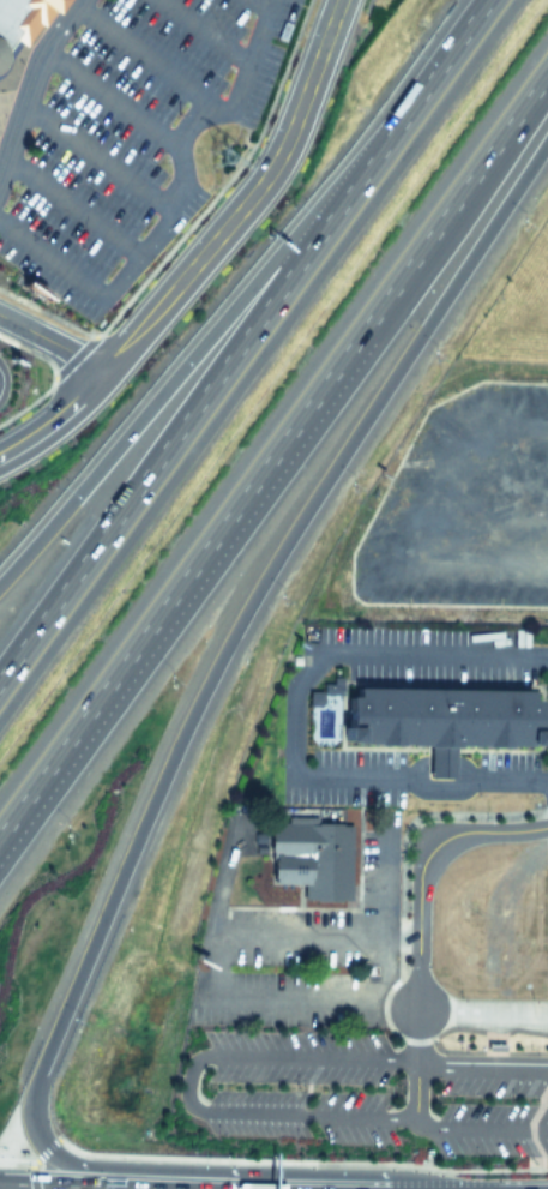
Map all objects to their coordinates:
road: (260, 5)
road: (331, 6)
building: (20, 23)
road: (205, 31)
road: (147, 59)
road: (29, 77)
road: (110, 97)
road: (7, 116)
road: (390, 120)
parking lot: (132, 148)
power tower: (223, 152)
road: (96, 156)
road: (176, 203)
road: (70, 206)
road: (198, 256)
road: (50, 341)
road: (149, 408)
road: (149, 452)
road: (273, 452)
building: (444, 717)
road: (289, 723)
road: (157, 786)
road: (544, 841)
building: (313, 855)
road: (417, 863)
road: (397, 873)
parking lot: (302, 947)
road: (237, 992)
road: (481, 1008)
road: (480, 1062)
road: (411, 1063)
road: (182, 1081)
parking lot: (371, 1089)
road: (526, 1118)
road: (477, 1130)
road: (42, 1148)
road: (16, 1158)
road: (297, 1158)
traffic signals: (2, 1182)
road: (2, 1185)
road: (102, 1185)

